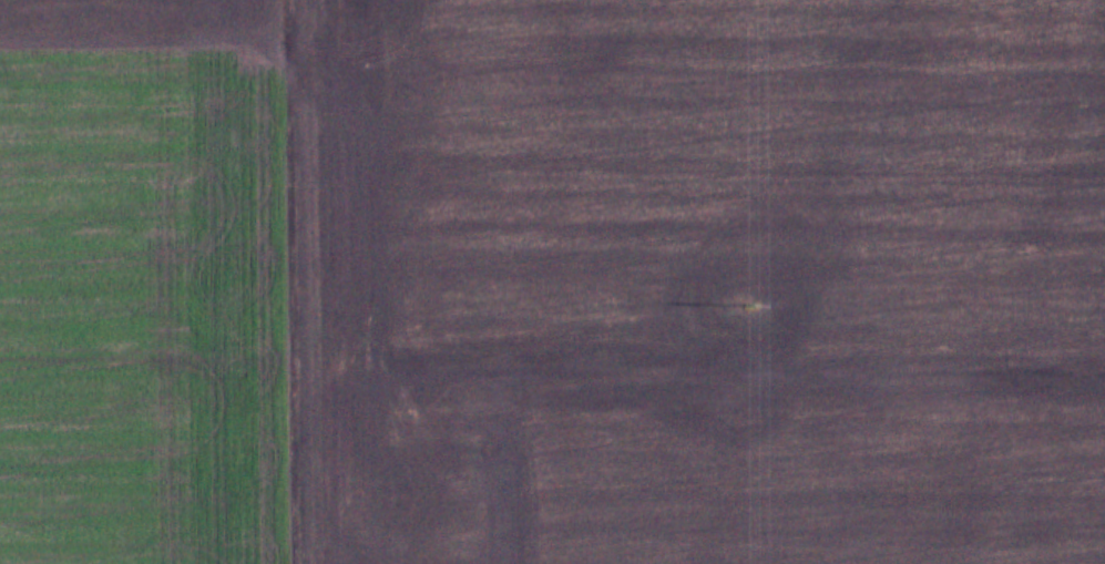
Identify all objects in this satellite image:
crop: (700, 281)
crop: (149, 283)
power tower: (745, 306)

